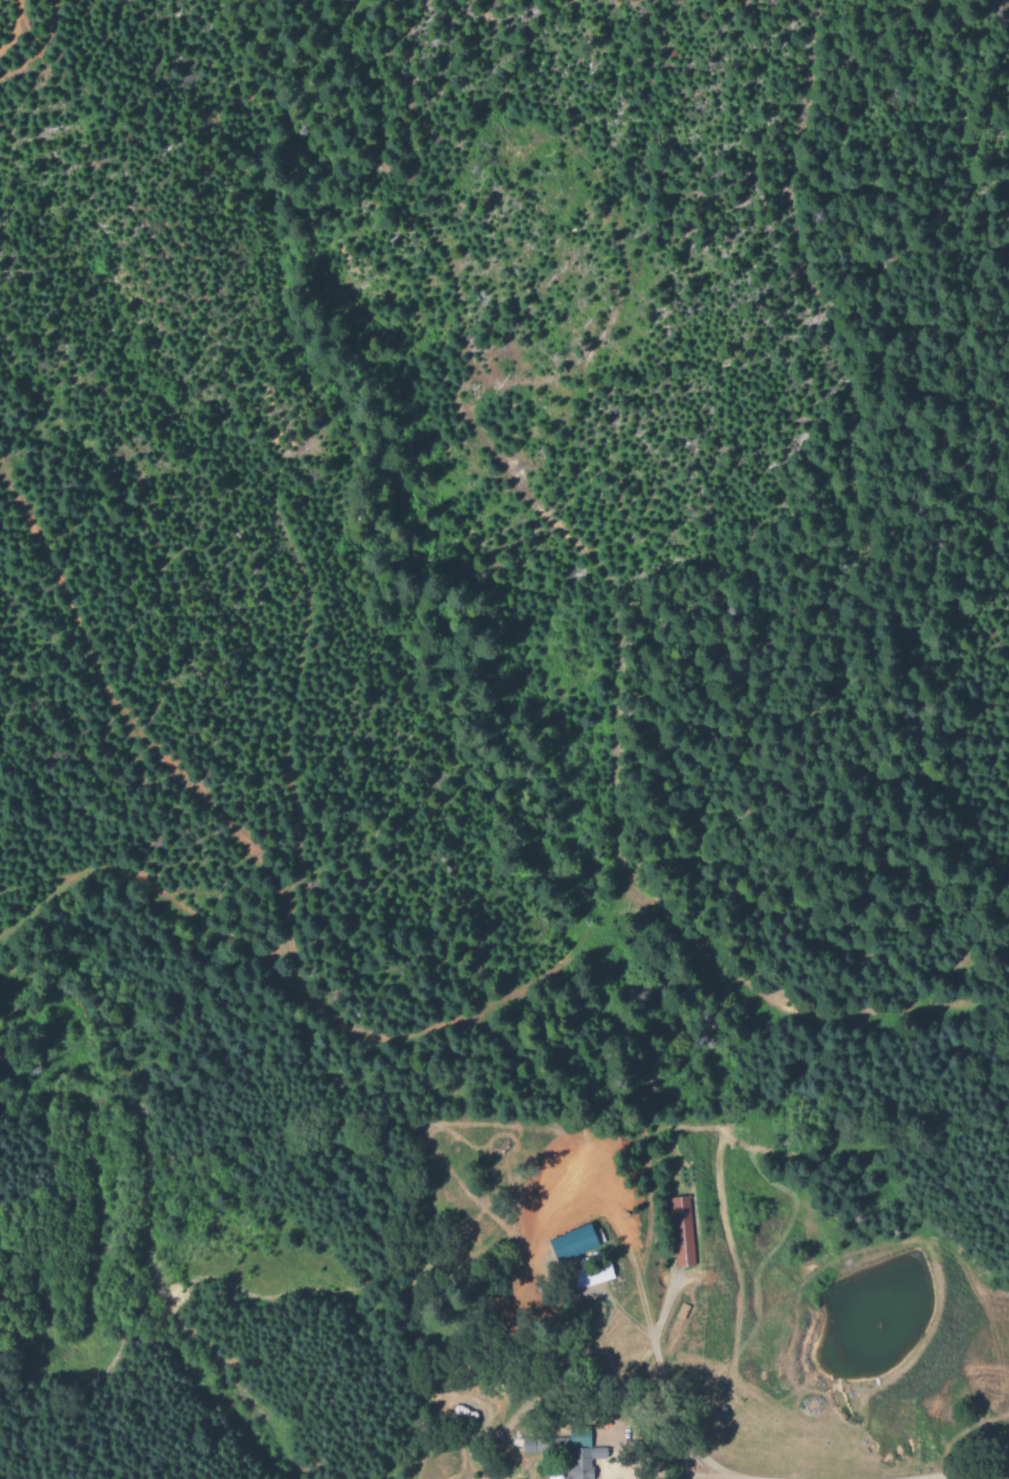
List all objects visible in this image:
building: (678, 1233)
building: (568, 1245)
building: (586, 1276)
building: (565, 1450)
road: (941, 1472)
road: (701, 1475)

